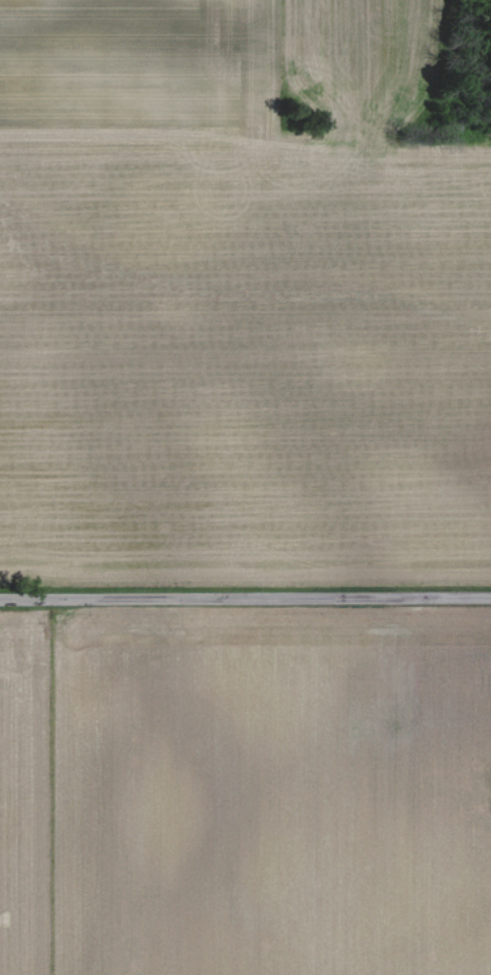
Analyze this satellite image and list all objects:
road: (245, 599)

